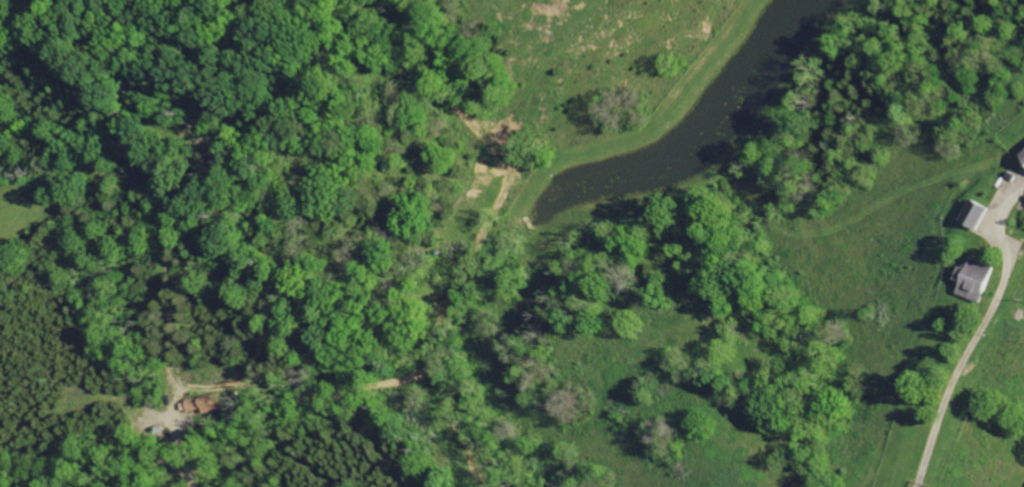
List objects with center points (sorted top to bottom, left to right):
building: (1022, 156)
building: (972, 214)
building: (973, 279)
road: (963, 368)
building: (208, 403)
road: (175, 447)

